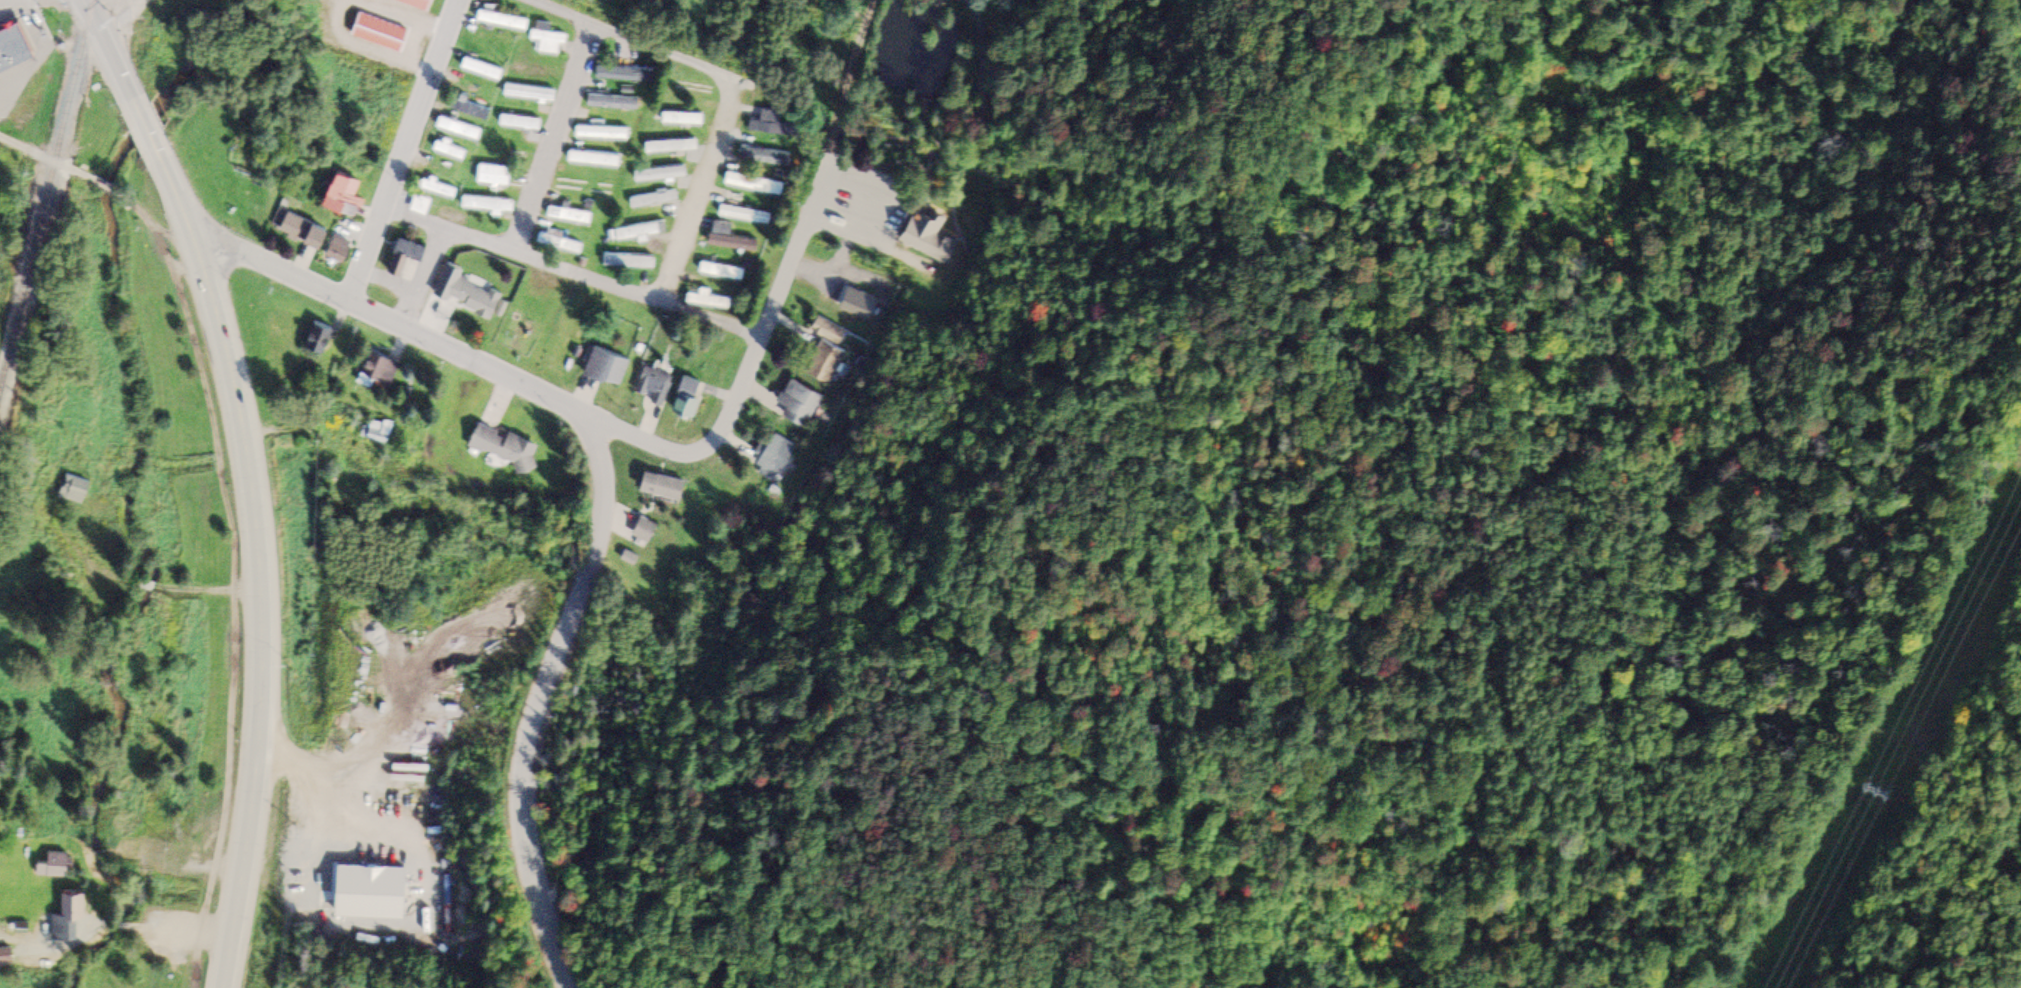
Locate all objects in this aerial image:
building: (421, 3)
building: (504, 21)
building: (549, 40)
building: (14, 45)
road: (667, 53)
road: (113, 58)
road: (855, 60)
building: (483, 70)
building: (626, 75)
building: (530, 94)
building: (614, 103)
building: (470, 109)
building: (683, 119)
building: (521, 124)
building: (774, 126)
building: (459, 129)
road: (147, 132)
building: (603, 134)
road: (554, 139)
road: (27, 150)
building: (450, 151)
road: (403, 152)
building: (760, 159)
building: (595, 160)
road: (71, 171)
building: (662, 175)
building: (494, 176)
building: (756, 185)
building: (440, 189)
road: (109, 190)
building: (347, 194)
railway: (46, 196)
building: (655, 201)
building: (488, 205)
building: (421, 206)
building: (571, 216)
building: (746, 216)
building: (306, 230)
building: (637, 233)
road: (688, 233)
building: (732, 241)
road: (162, 245)
building: (340, 249)
building: (937, 251)
building: (408, 255)
building: (629, 262)
road: (570, 272)
building: (723, 272)
road: (775, 287)
building: (477, 298)
building: (708, 301)
building: (862, 304)
building: (836, 335)
building: (321, 338)
road: (452, 353)
building: (827, 363)
building: (608, 368)
building: (379, 371)
building: (654, 399)
building: (689, 399)
building: (800, 403)
building: (506, 448)
building: (774, 460)
river: (135, 480)
building: (665, 486)
building: (74, 491)
building: (646, 531)
road: (258, 561)
road: (232, 626)
road: (539, 702)
power tower: (1878, 781)
building: (55, 866)
building: (373, 901)
building: (70, 917)
building: (7, 956)

